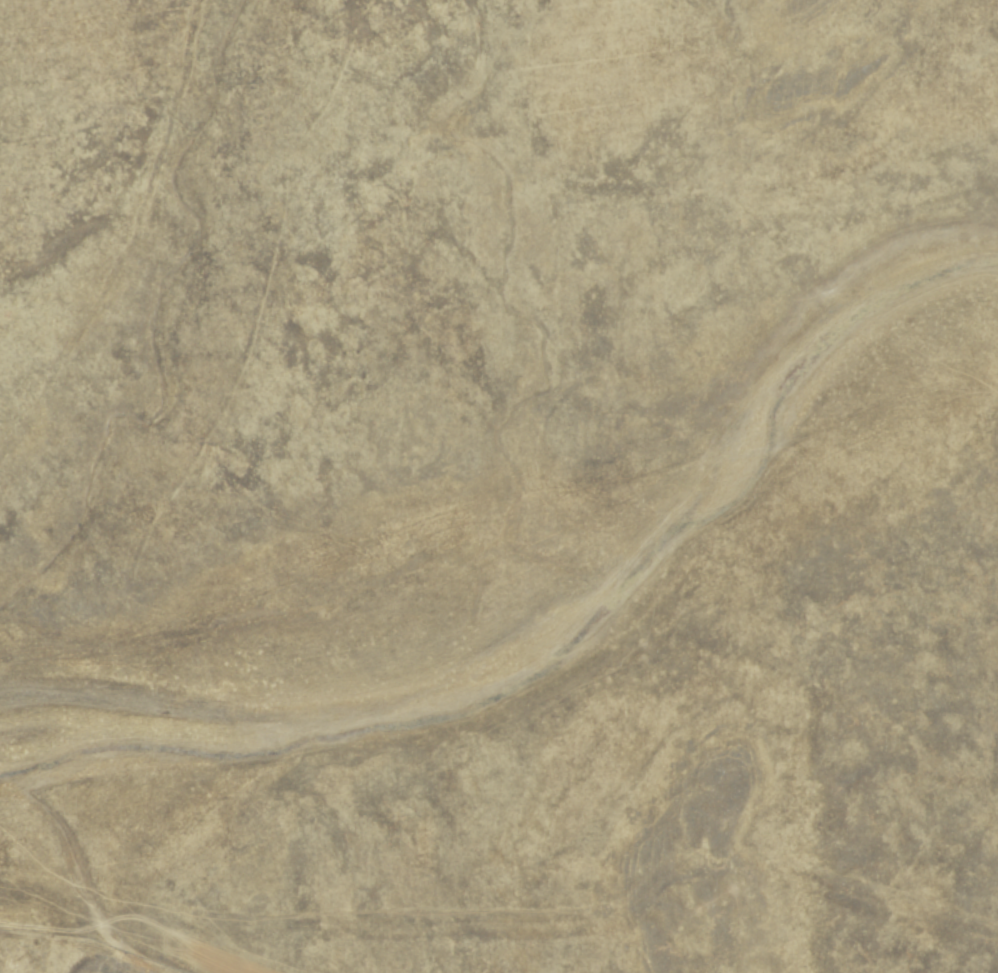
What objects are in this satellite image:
airport: (499, 486)

